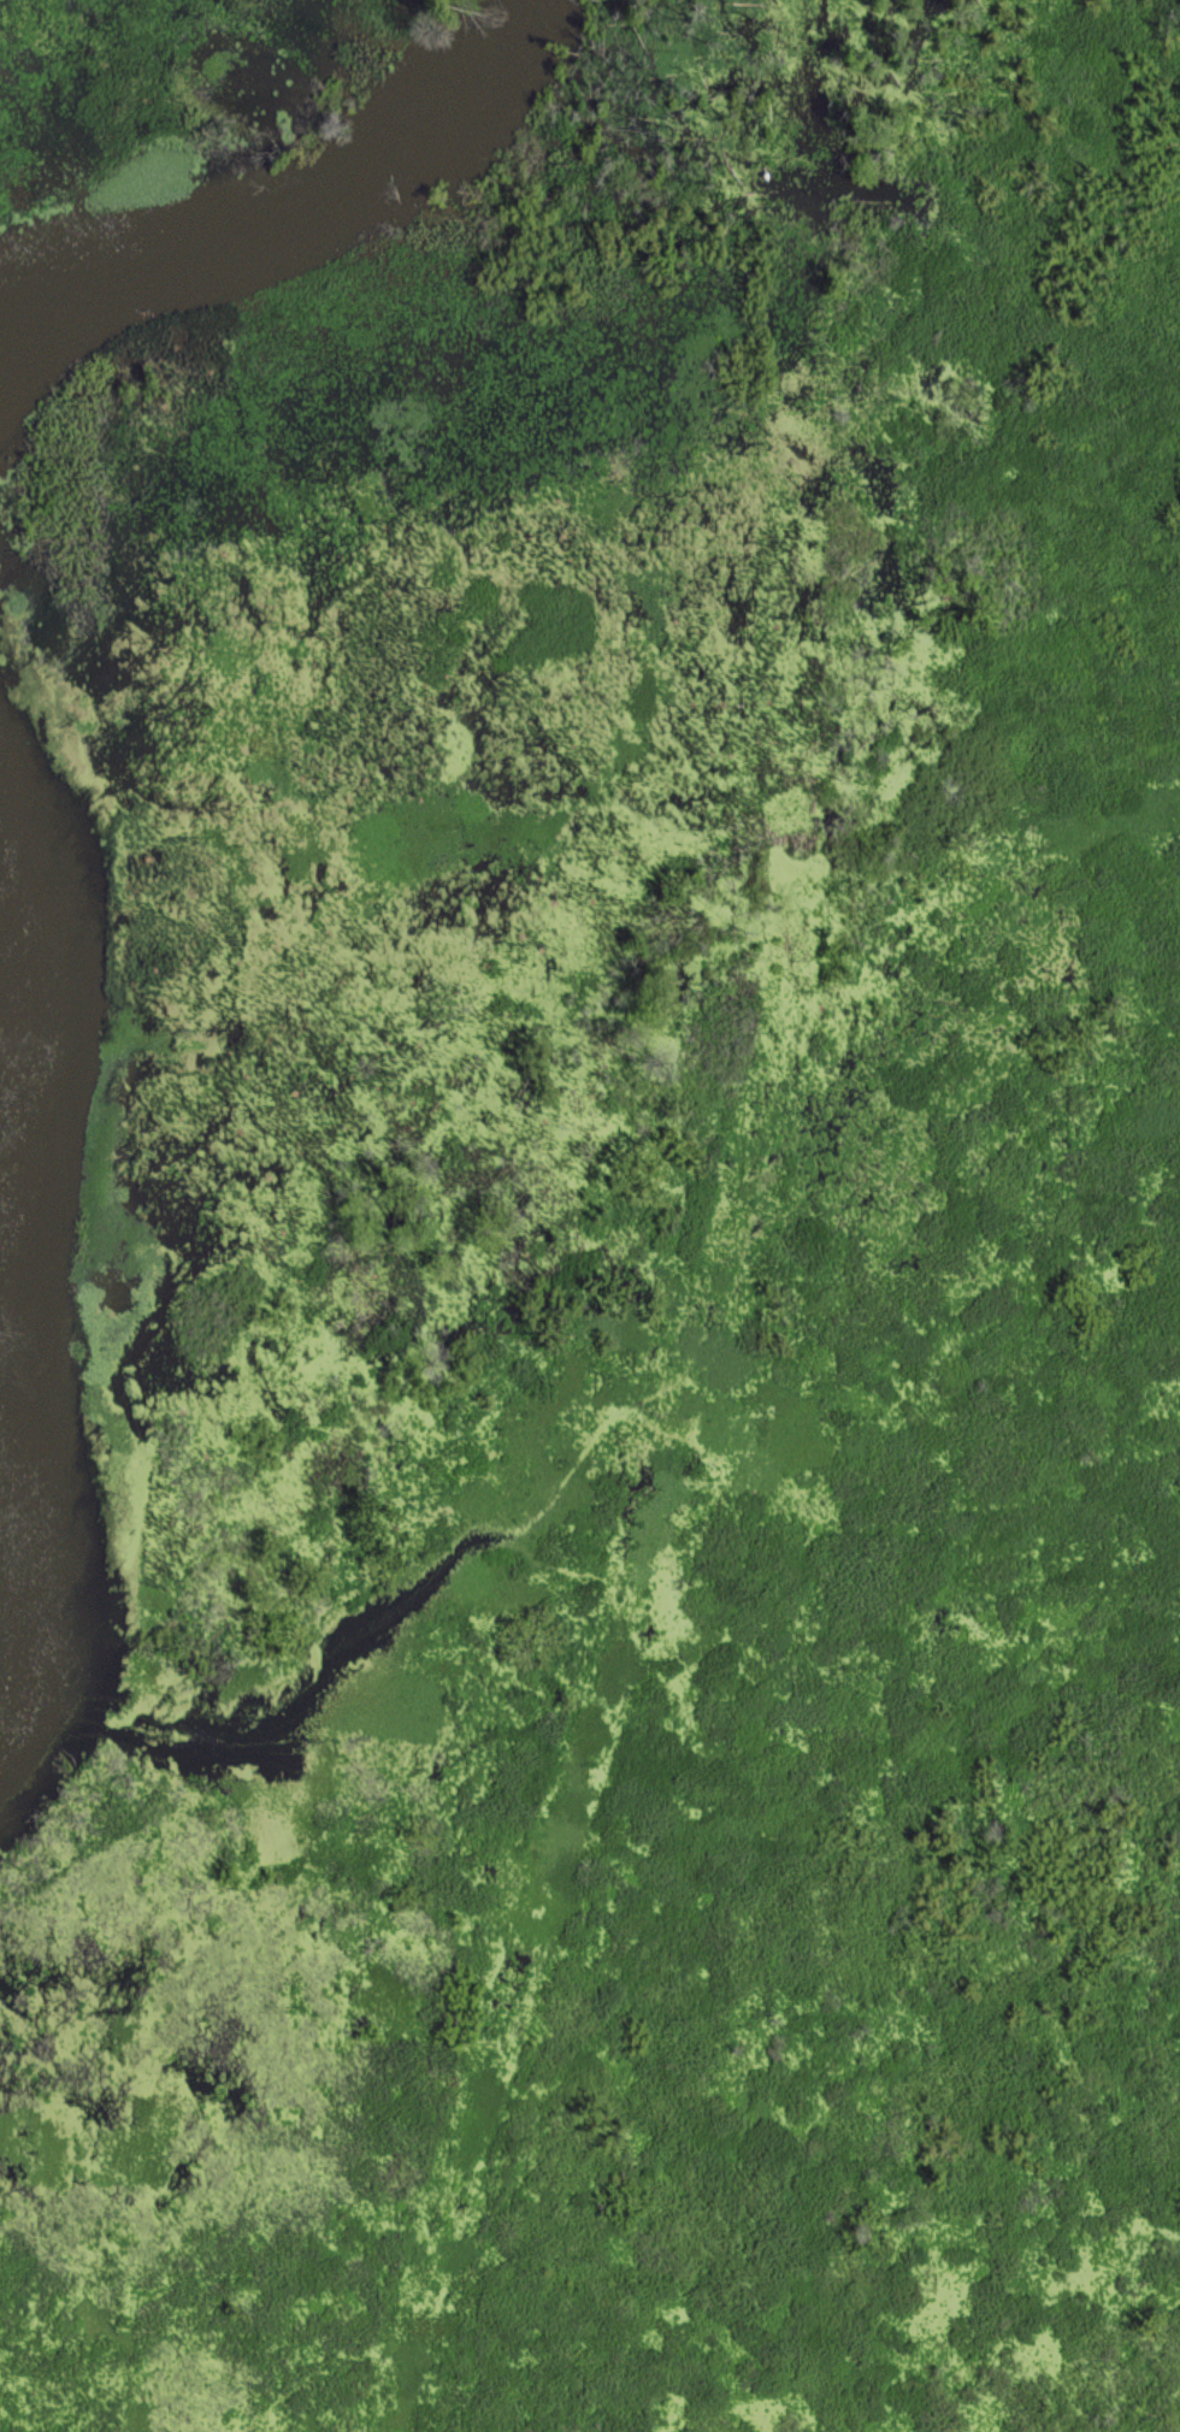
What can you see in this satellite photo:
river: (67, 1137)

